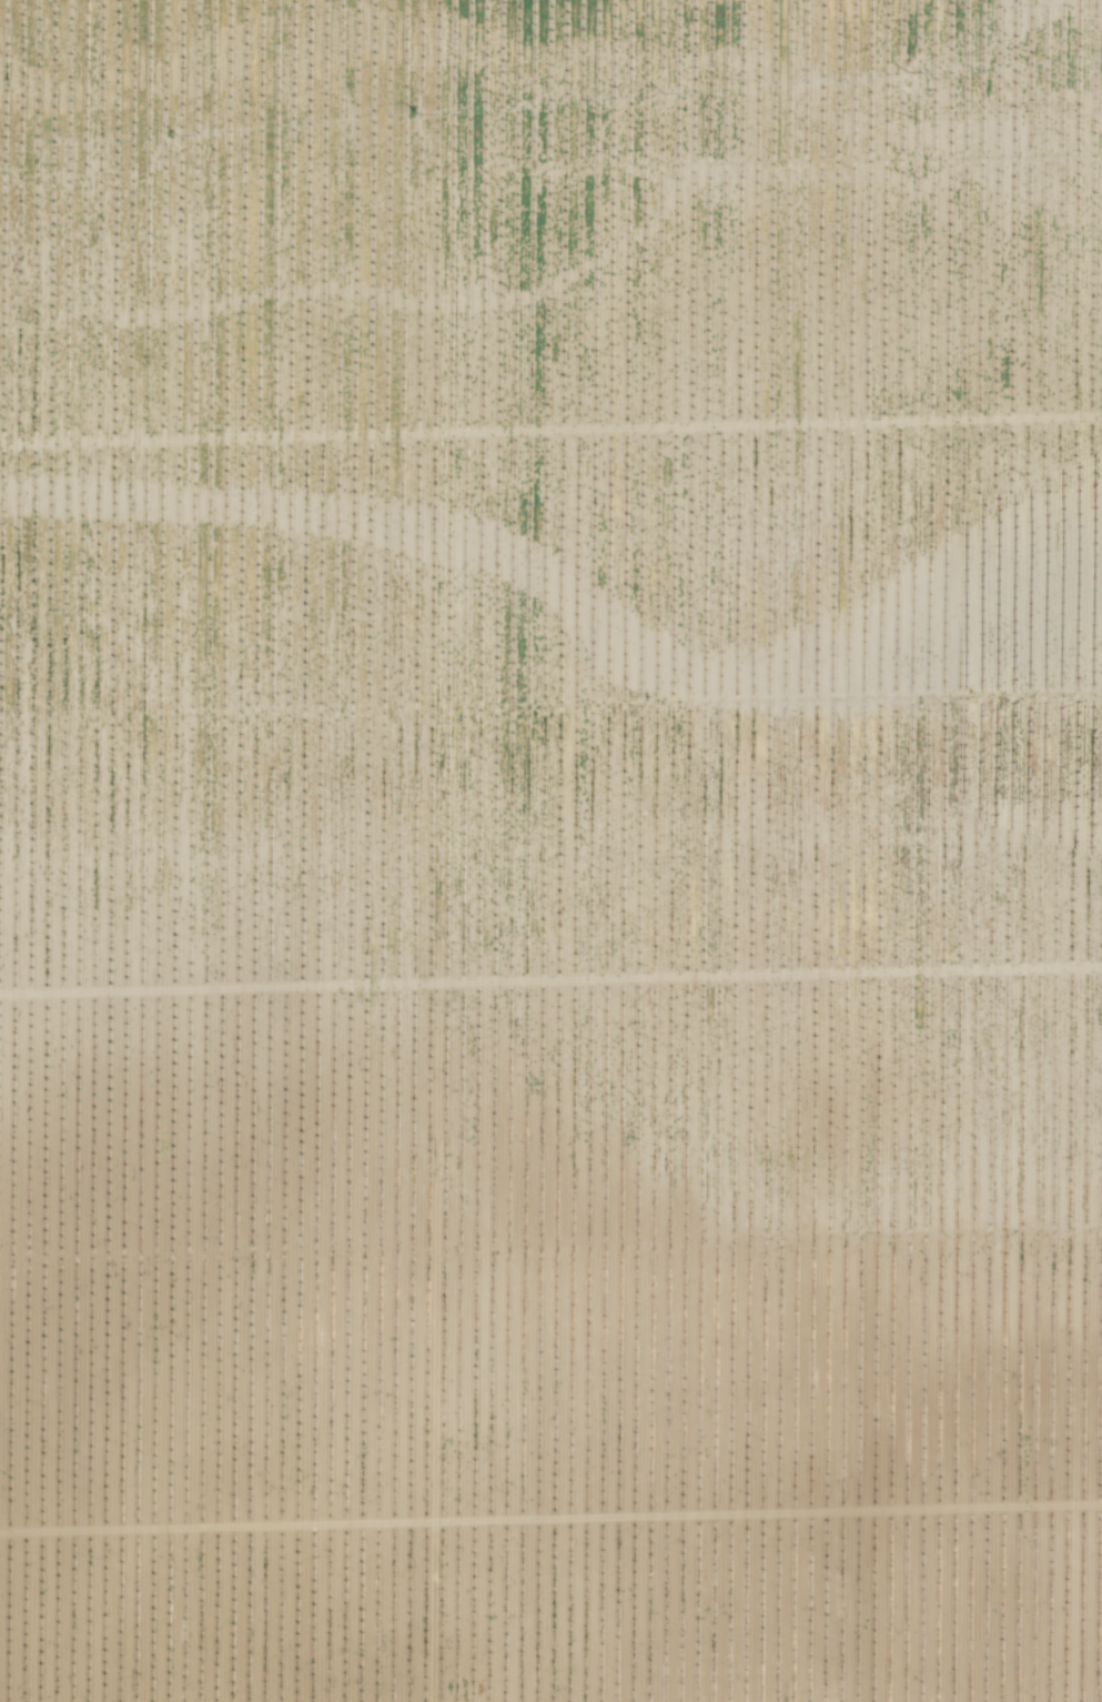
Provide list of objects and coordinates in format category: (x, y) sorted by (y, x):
road: (1080, 44)
road: (183, 850)
road: (536, 850)
crop: (550, 850)

